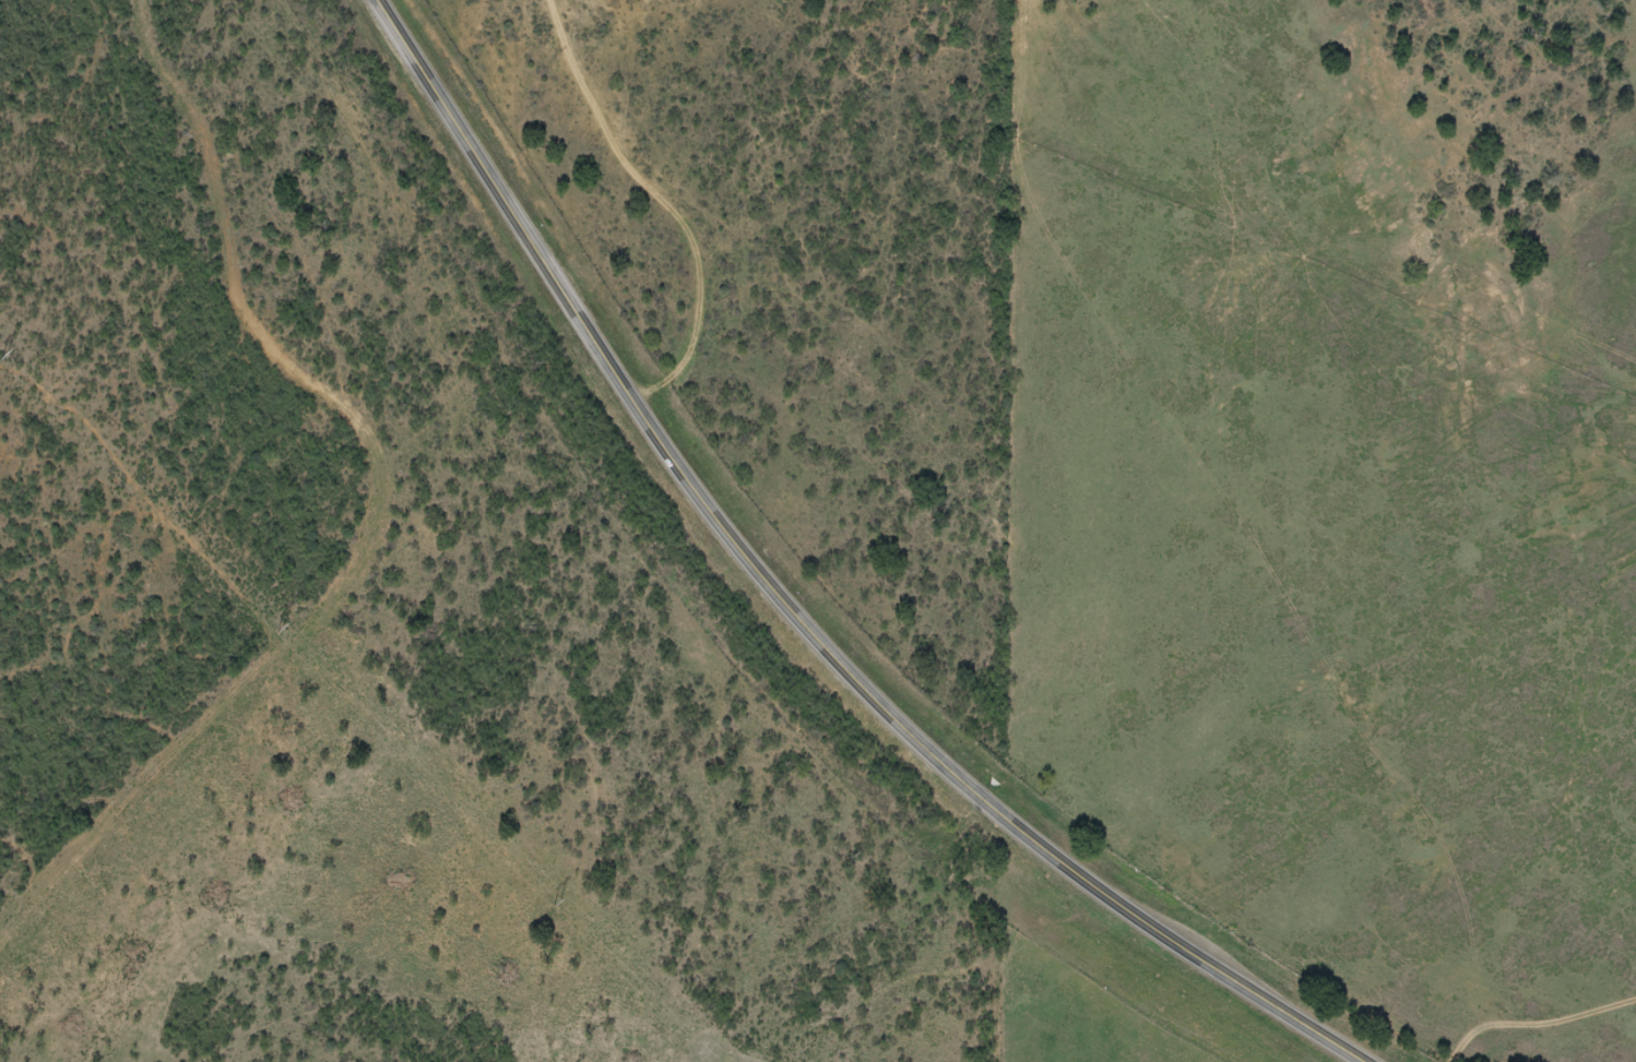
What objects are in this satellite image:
power tower: (1332, 153)
road: (642, 199)
power tower: (15, 355)
road: (787, 609)
power tower: (287, 627)
power tower: (562, 908)
road: (1536, 1023)

